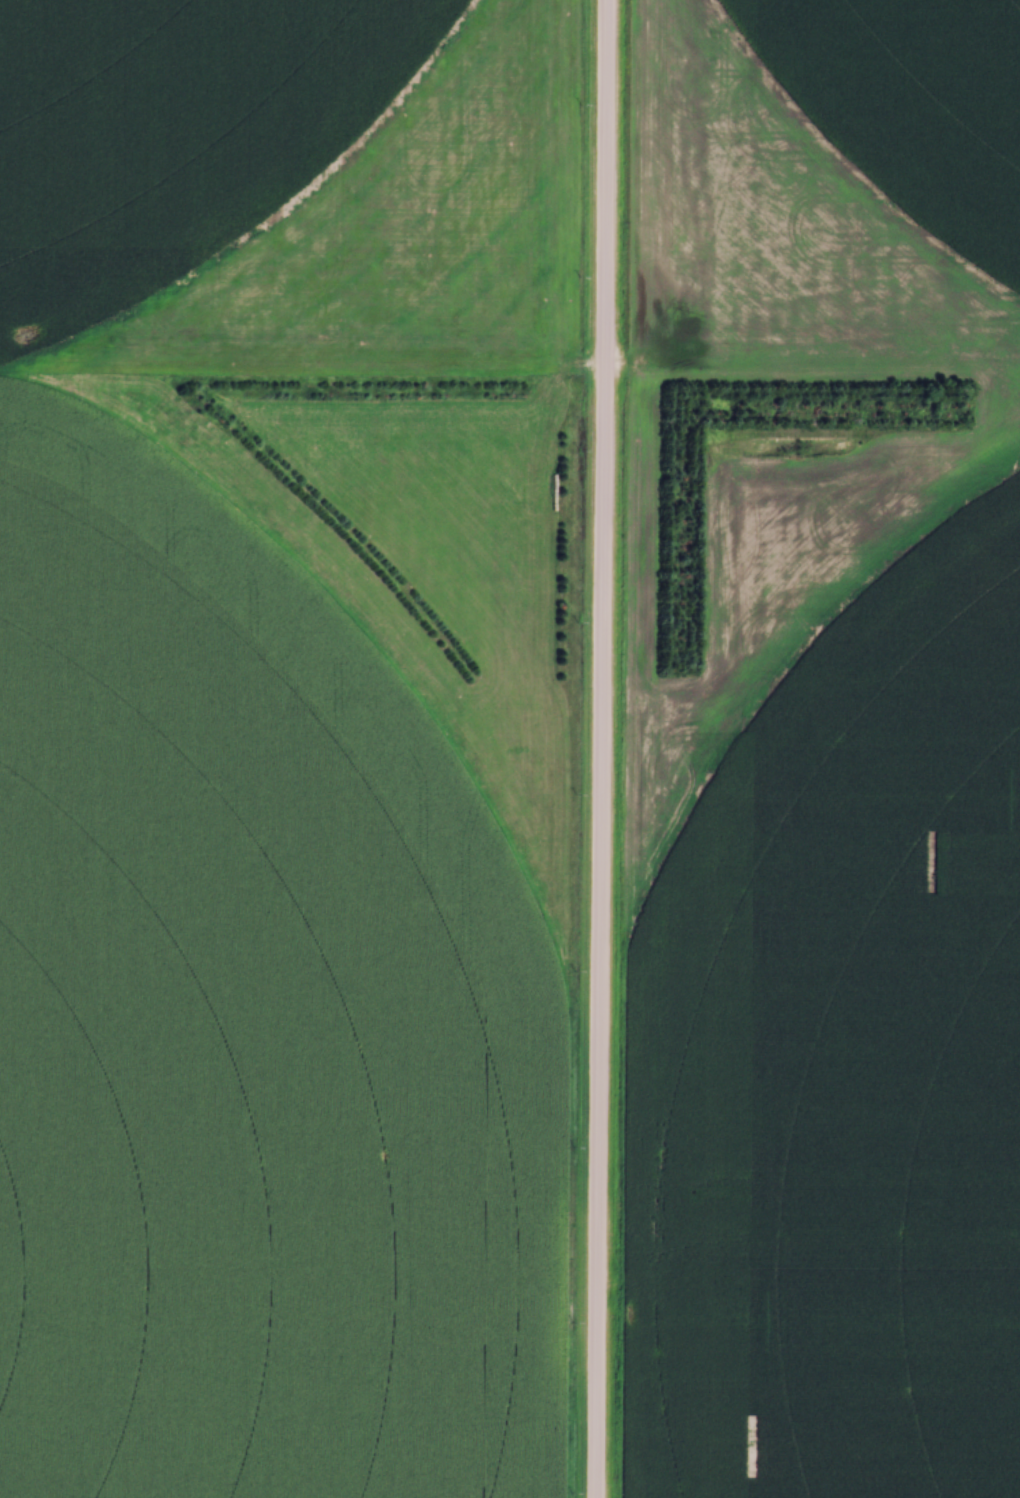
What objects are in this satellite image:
road: (601, 749)

